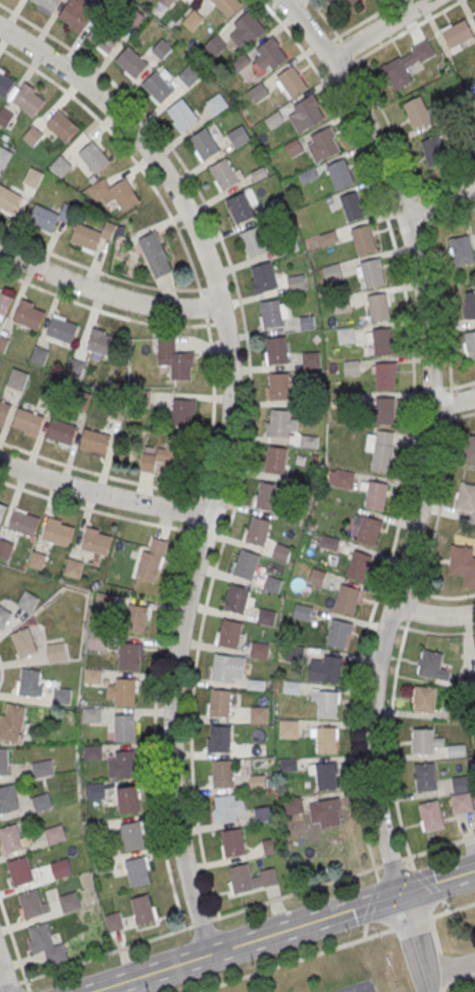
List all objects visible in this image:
building: (331, 0)
building: (102, 2)
building: (47, 4)
building: (227, 6)
building: (74, 17)
building: (474, 17)
road: (326, 19)
road: (364, 20)
building: (250, 27)
road: (380, 27)
road: (404, 31)
building: (458, 34)
building: (103, 39)
road: (327, 44)
road: (346, 48)
building: (162, 49)
building: (272, 54)
building: (131, 63)
building: (404, 66)
road: (344, 68)
building: (190, 76)
building: (292, 82)
building: (5, 85)
building: (158, 87)
building: (258, 93)
building: (28, 102)
building: (217, 104)
building: (418, 113)
building: (182, 115)
building: (306, 115)
building: (61, 126)
building: (32, 136)
building: (238, 136)
building: (204, 144)
building: (323, 144)
road: (126, 150)
building: (435, 152)
building: (4, 157)
building: (93, 158)
building: (60, 166)
building: (224, 175)
building: (340, 175)
building: (33, 178)
road: (443, 186)
building: (124, 195)
road: (406, 199)
building: (8, 200)
road: (441, 203)
building: (352, 206)
building: (240, 209)
road: (447, 216)
building: (43, 219)
road: (415, 230)
building: (86, 237)
building: (364, 240)
building: (252, 243)
building: (151, 249)
building: (462, 251)
road: (100, 273)
building: (371, 274)
building: (264, 277)
road: (212, 289)
road: (107, 294)
building: (4, 304)
building: (469, 304)
road: (203, 305)
building: (341, 305)
building: (378, 308)
road: (103, 312)
building: (28, 316)
building: (272, 316)
road: (446, 321)
road: (219, 324)
building: (62, 330)
building: (346, 335)
building: (382, 342)
building: (101, 344)
building: (470, 345)
building: (276, 351)
building: (38, 356)
building: (175, 360)
building: (311, 360)
building: (351, 367)
building: (75, 369)
building: (385, 377)
building: (17, 379)
road: (454, 386)
building: (279, 388)
building: (82, 402)
road: (452, 403)
building: (4, 411)
building: (385, 411)
building: (183, 413)
road: (249, 416)
road: (452, 417)
building: (28, 422)
building: (280, 424)
road: (412, 425)
building: (61, 433)
road: (428, 434)
building: (94, 442)
building: (470, 448)
road: (227, 453)
building: (381, 458)
building: (275, 461)
road: (98, 471)
building: (342, 479)
road: (104, 495)
building: (376, 496)
building: (267, 497)
building: (466, 497)
road: (95, 509)
building: (2, 513)
building: (23, 524)
building: (368, 531)
road: (200, 533)
building: (258, 533)
building: (58, 534)
building: (96, 543)
building: (5, 550)
building: (281, 553)
building: (36, 560)
building: (151, 561)
building: (463, 564)
building: (247, 566)
building: (358, 567)
building: (73, 568)
building: (316, 578)
building: (272, 585)
road: (404, 588)
road: (442, 596)
building: (346, 600)
building: (28, 601)
building: (237, 601)
road: (410, 609)
building: (303, 613)
building: (4, 616)
road: (432, 616)
building: (266, 618)
building: (136, 620)
road: (164, 620)
road: (394, 622)
road: (437, 633)
building: (230, 635)
building: (338, 635)
building: (23, 641)
building: (97, 641)
building: (55, 651)
building: (259, 651)
building: (294, 655)
building: (129, 657)
building: (432, 666)
road: (1, 669)
building: (228, 669)
building: (332, 670)
building: (92, 675)
building: (30, 683)
building: (125, 694)
building: (425, 700)
building: (220, 705)
building: (327, 706)
building: (259, 714)
building: (12, 723)
building: (288, 728)
building: (124, 729)
building: (221, 740)
building: (326, 741)
building: (422, 743)
road: (390, 744)
building: (456, 750)
building: (3, 764)
building: (288, 764)
building: (123, 767)
building: (43, 769)
building: (222, 775)
building: (326, 777)
building: (425, 778)
building: (257, 782)
building: (461, 794)
building: (8, 801)
building: (128, 802)
building: (42, 804)
building: (294, 805)
building: (226, 810)
building: (329, 813)
building: (263, 814)
building: (431, 817)
building: (56, 836)
building: (133, 837)
building: (11, 840)
building: (233, 844)
building: (271, 845)
road: (439, 847)
road: (392, 862)
building: (103, 866)
building: (61, 870)
building: (21, 872)
building: (138, 873)
building: (241, 879)
road: (428, 883)
road: (296, 892)
traffic signals: (404, 896)
road: (371, 901)
building: (69, 903)
road: (446, 905)
building: (31, 906)
road: (452, 909)
building: (143, 911)
building: (113, 922)
road: (201, 922)
road: (410, 922)
road: (364, 930)
road: (285, 932)
road: (434, 933)
road: (14, 943)
road: (418, 943)
building: (46, 946)
road: (104, 953)
road: (292, 959)
road: (443, 966)
road: (451, 968)
road: (5, 975)
road: (457, 977)
building: (474, 979)
building: (473, 982)
road: (9, 984)
road: (441, 989)
road: (28, 991)

